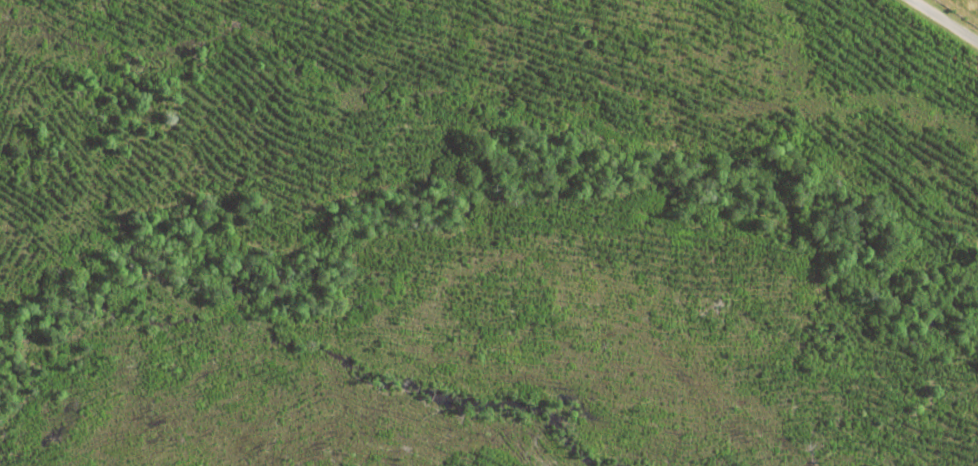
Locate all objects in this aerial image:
road: (948, 19)

